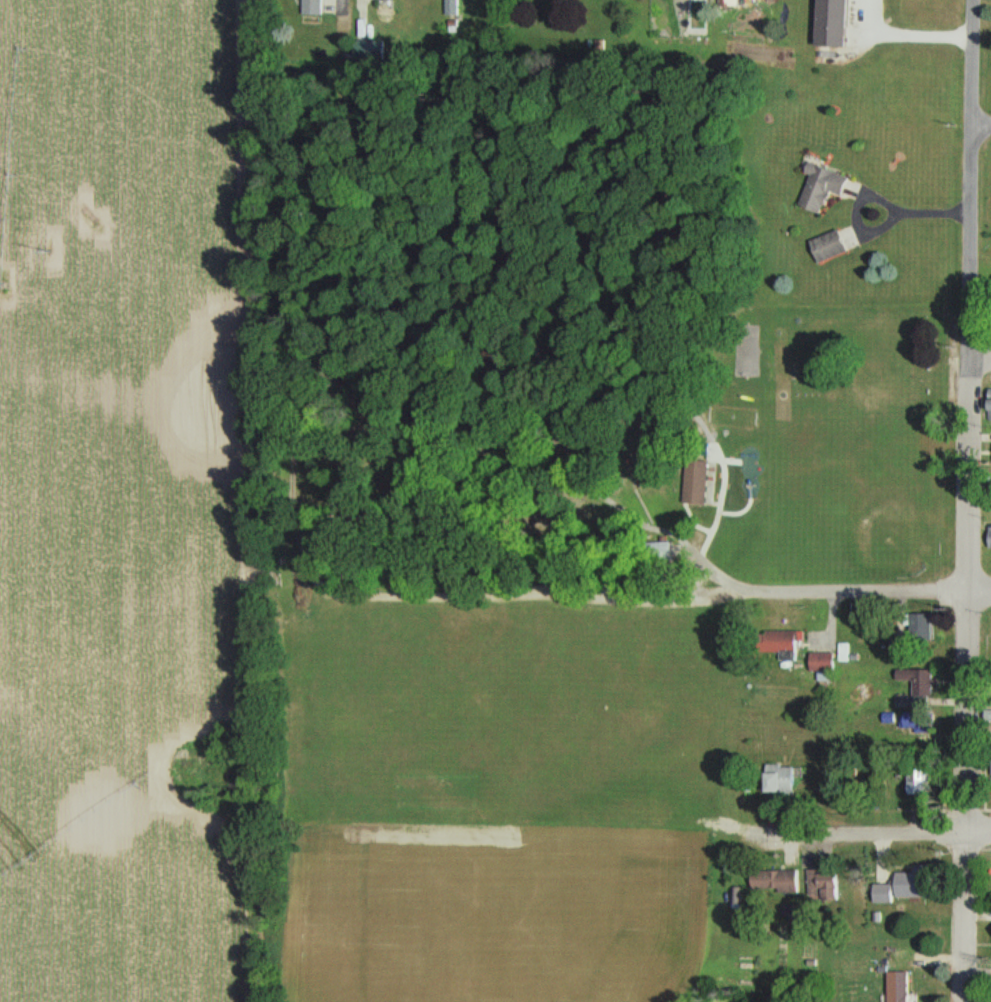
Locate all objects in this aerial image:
building: (315, 7)
building: (366, 51)
road: (981, 122)
building: (818, 189)
power tower: (55, 237)
building: (824, 246)
road: (979, 357)
building: (986, 400)
road: (965, 501)
building: (989, 540)
road: (766, 589)
building: (917, 624)
building: (779, 643)
building: (818, 662)
building: (918, 685)
building: (778, 780)
road: (885, 829)
building: (771, 881)
building: (820, 885)
building: (899, 887)
building: (893, 987)

